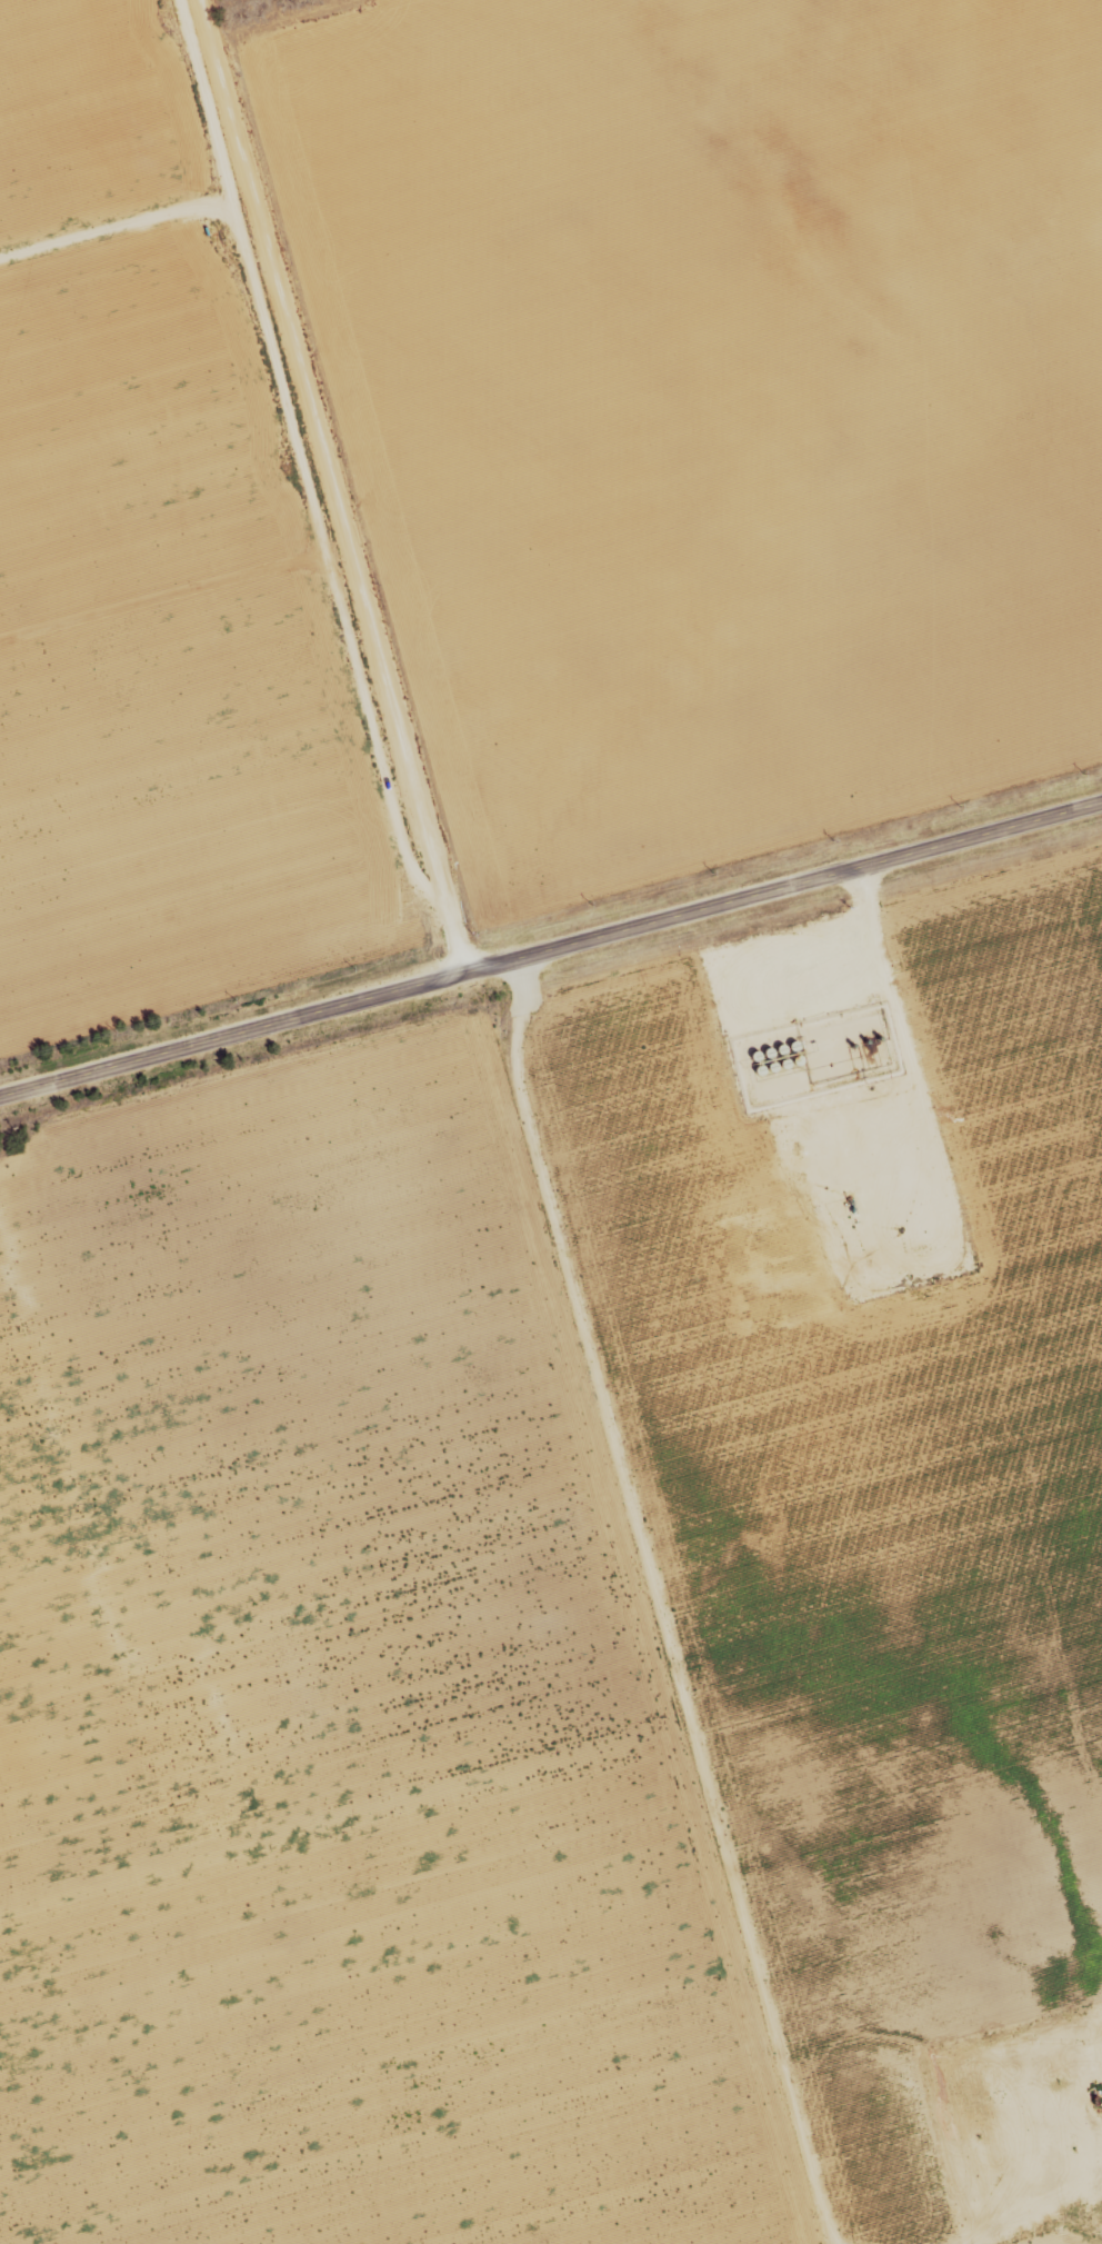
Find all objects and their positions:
road: (335, 488)
road: (550, 954)

